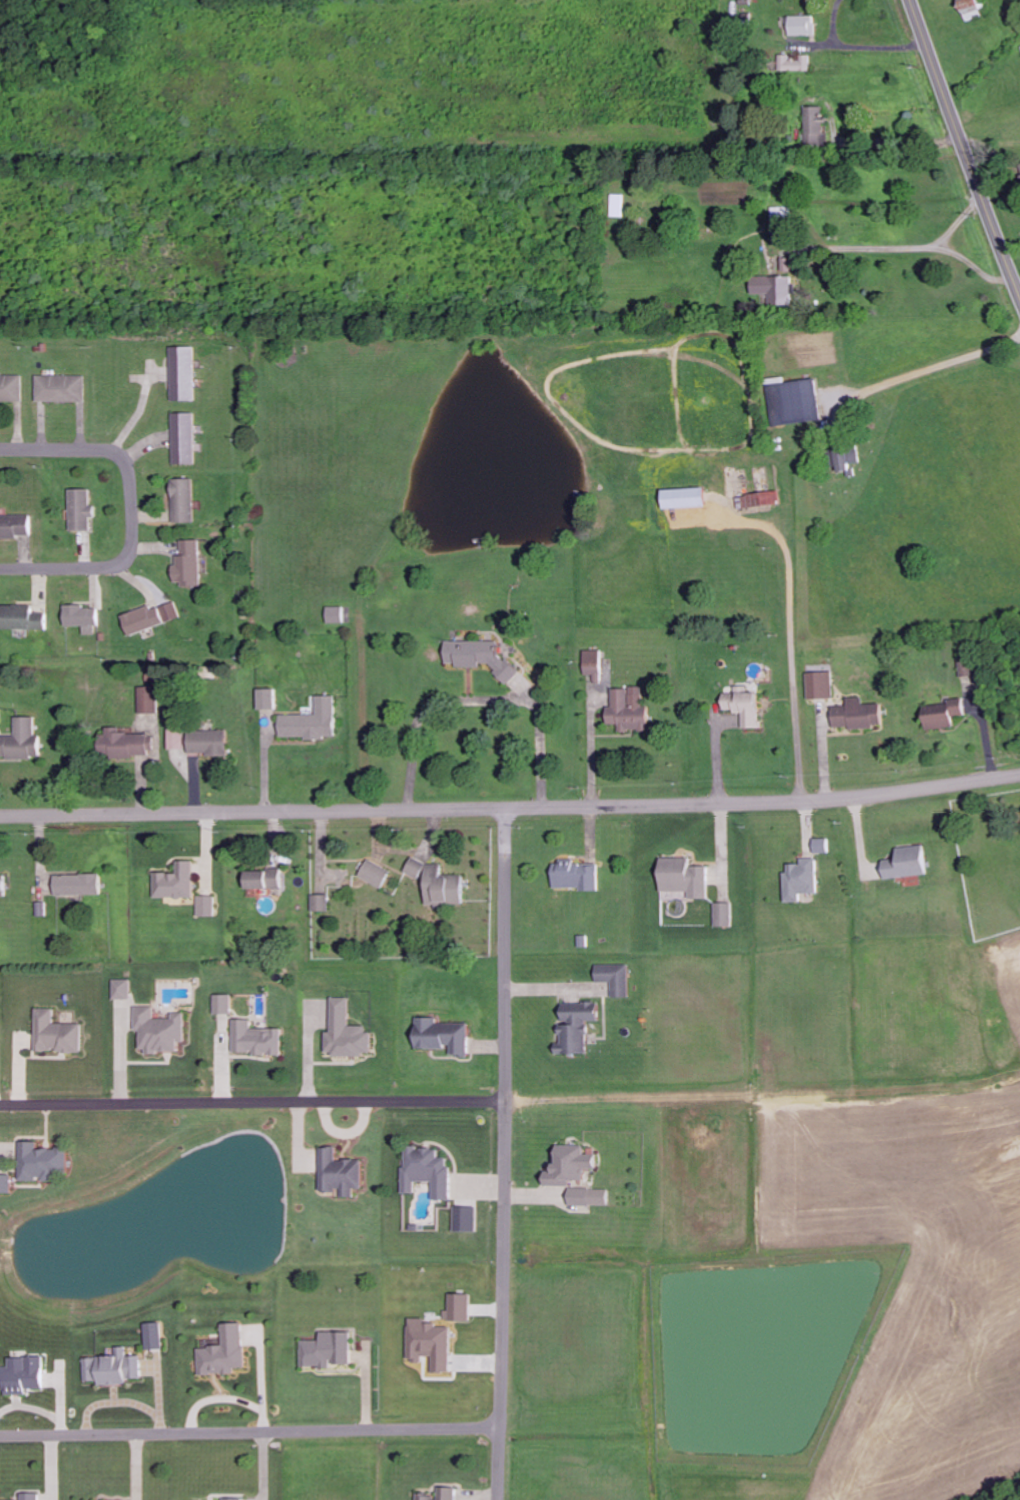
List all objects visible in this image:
building: (971, 7)
building: (802, 26)
building: (795, 64)
building: (815, 126)
road: (964, 147)
building: (619, 205)
building: (782, 214)
building: (773, 289)
building: (183, 374)
road: (909, 377)
building: (11, 388)
building: (60, 388)
building: (796, 403)
building: (183, 439)
building: (846, 458)
building: (683, 497)
building: (758, 499)
building: (182, 500)
building: (79, 509)
road: (131, 510)
building: (13, 525)
building: (189, 563)
building: (336, 614)
building: (80, 617)
building: (149, 617)
building: (19, 618)
building: (479, 657)
building: (592, 664)
building: (820, 685)
building: (265, 698)
building: (148, 700)
building: (742, 705)
building: (627, 710)
building: (942, 714)
building: (857, 715)
building: (310, 721)
building: (20, 740)
building: (199, 741)
building: (124, 743)
road: (510, 808)
building: (822, 845)
building: (907, 863)
building: (374, 873)
building: (576, 876)
building: (684, 877)
building: (264, 879)
building: (801, 879)
building: (175, 882)
building: (437, 883)
building: (77, 884)
building: (3, 885)
building: (320, 902)
building: (206, 906)
building: (724, 914)
building: (614, 978)
building: (122, 989)
building: (225, 1004)
building: (44, 1017)
building: (575, 1026)
building: (158, 1031)
building: (344, 1032)
building: (441, 1036)
building: (257, 1039)
road: (253, 1101)
road: (506, 1154)
building: (41, 1162)
building: (566, 1165)
building: (425, 1171)
building: (340, 1173)
building: (5, 1184)
building: (586, 1197)
building: (464, 1219)
building: (451, 1307)
building: (462, 1307)
building: (153, 1336)
building: (430, 1344)
building: (328, 1350)
building: (224, 1353)
building: (114, 1369)
building: (22, 1375)
road: (250, 1431)
building: (29, 1496)
building: (234, 1499)

